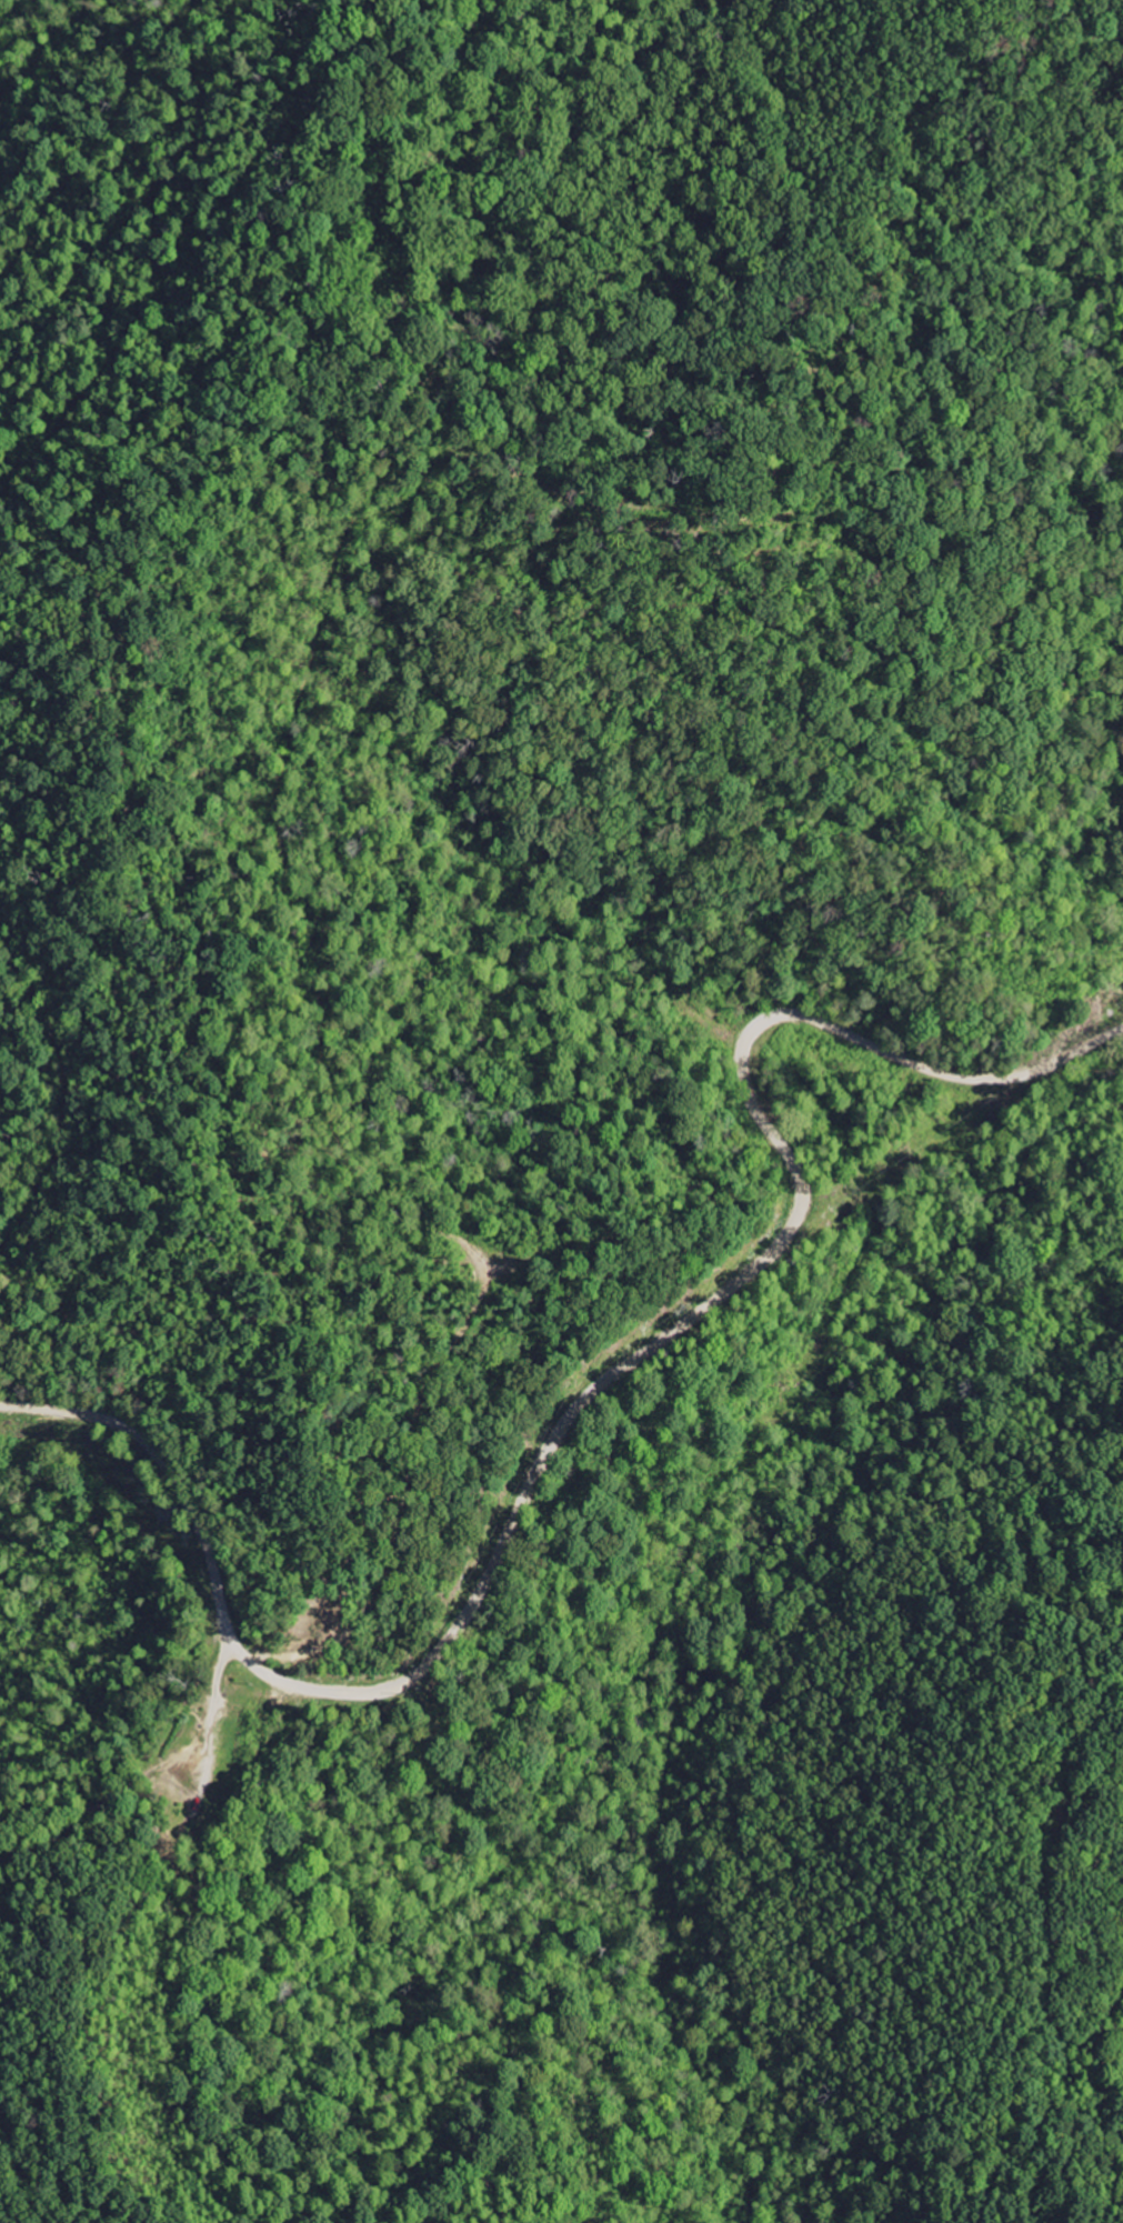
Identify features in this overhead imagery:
road: (576, 1410)
road: (310, 1651)

